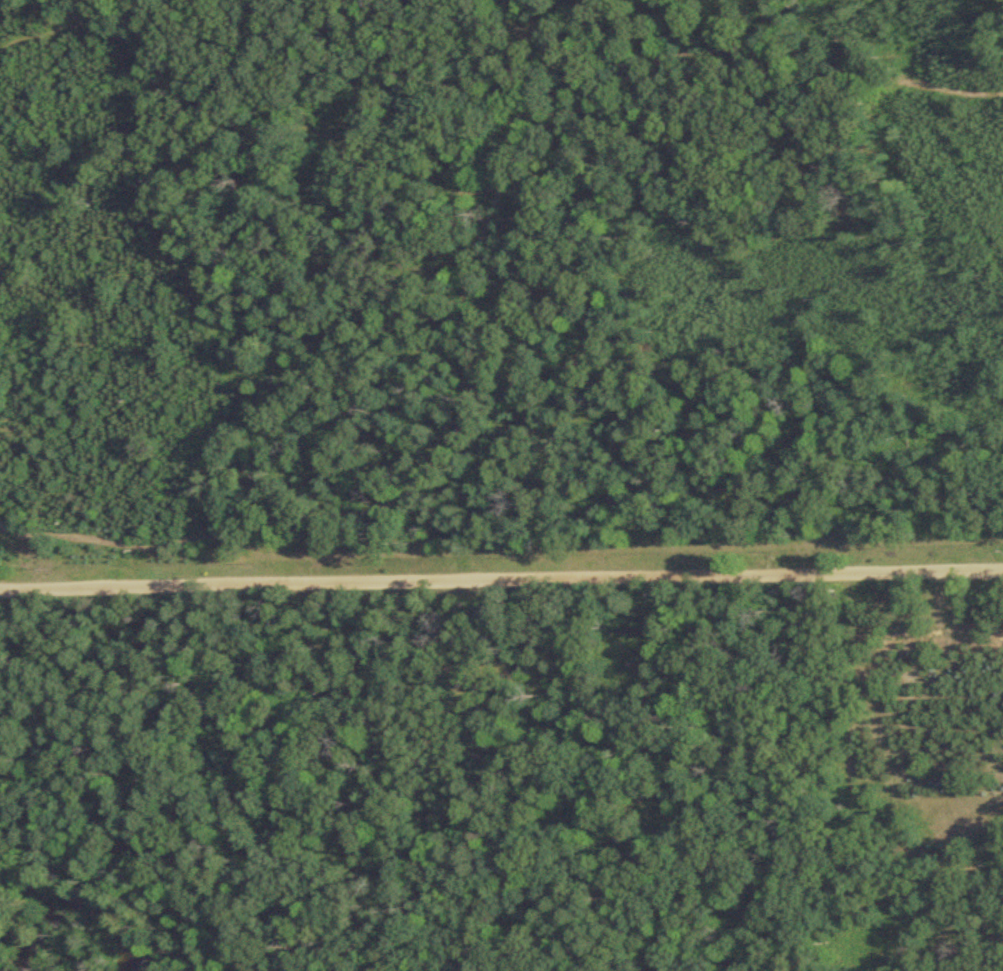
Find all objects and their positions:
road: (501, 575)
river: (79, 901)

